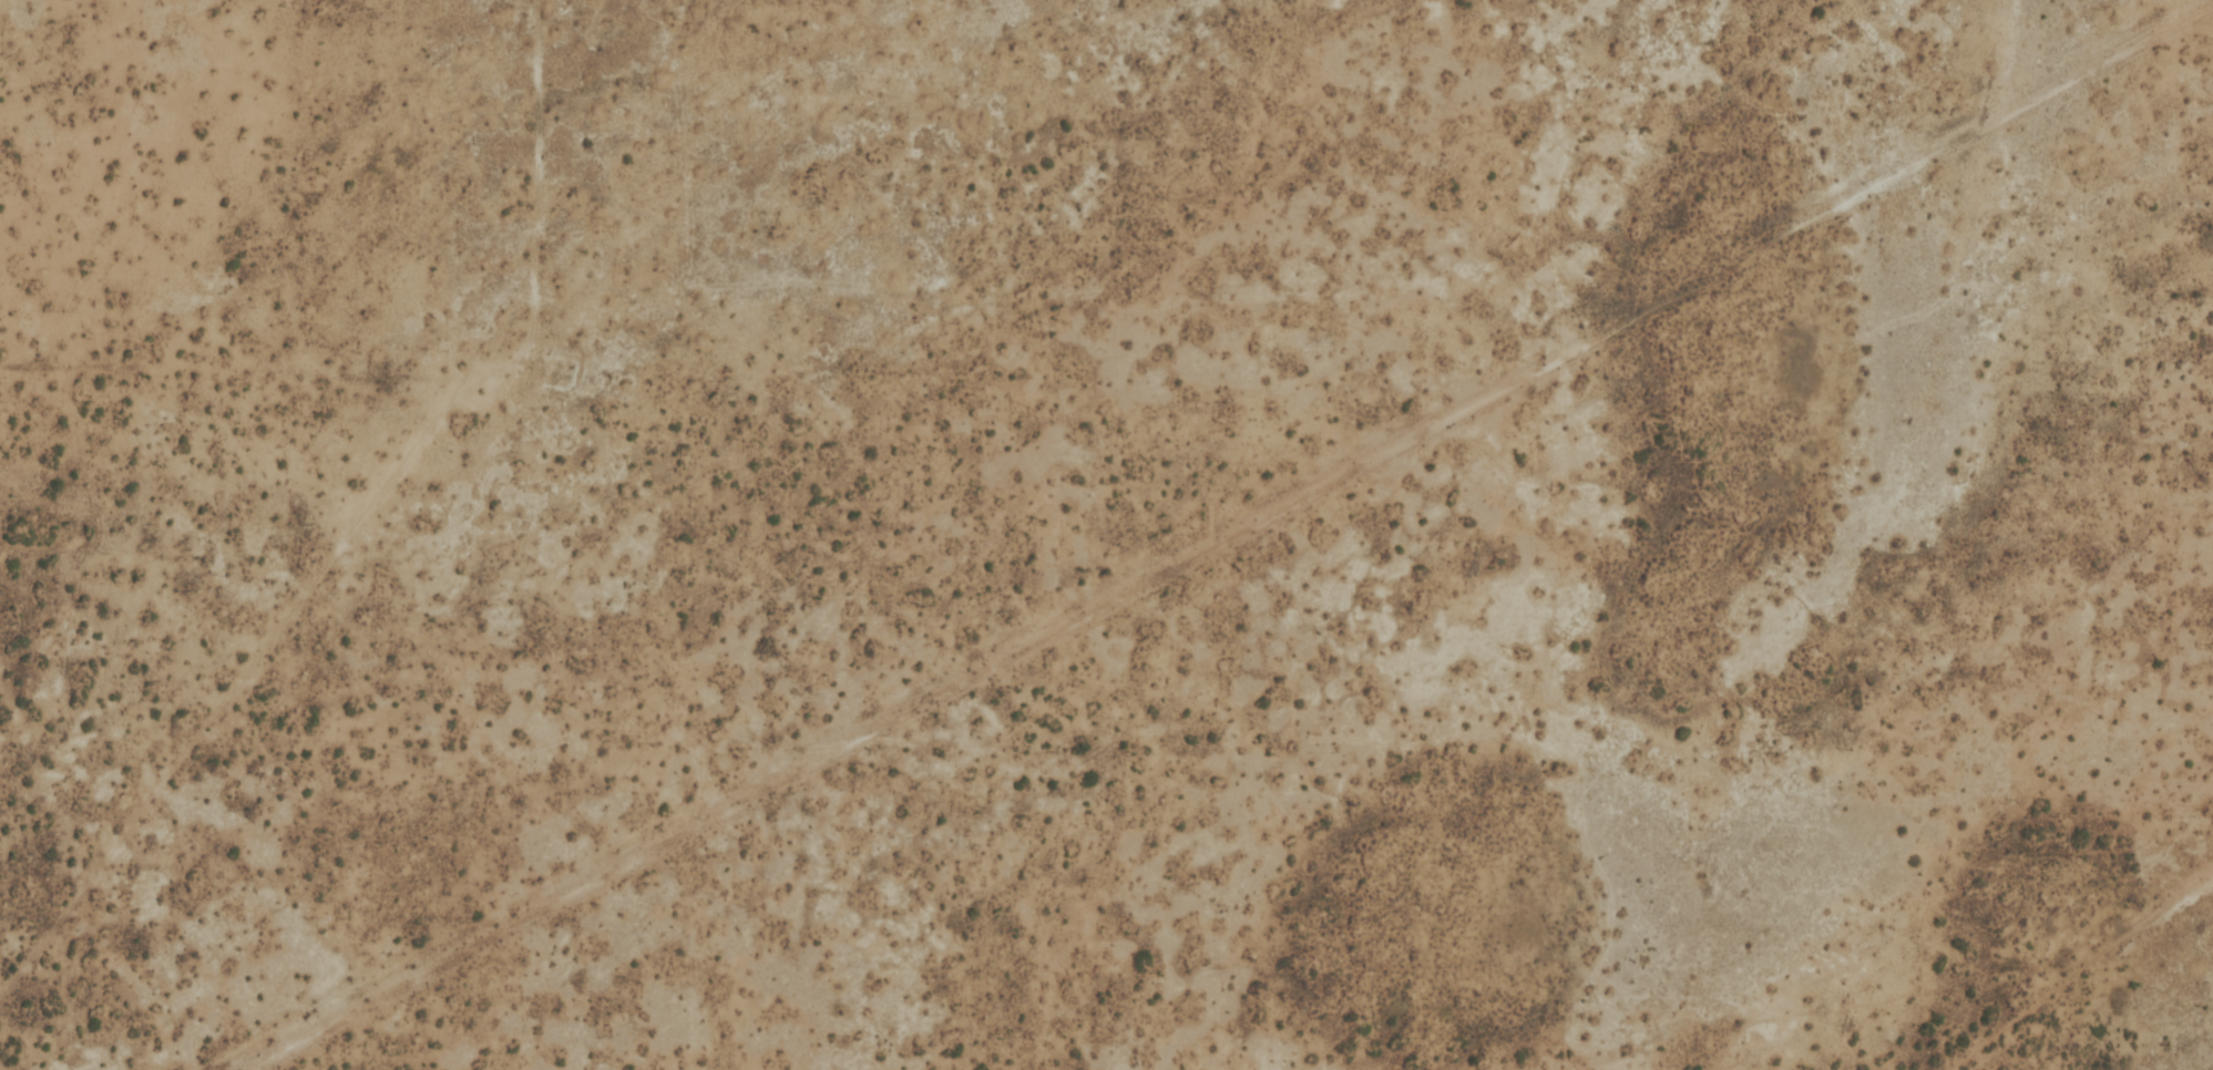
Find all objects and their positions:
road: (2148, 134)

